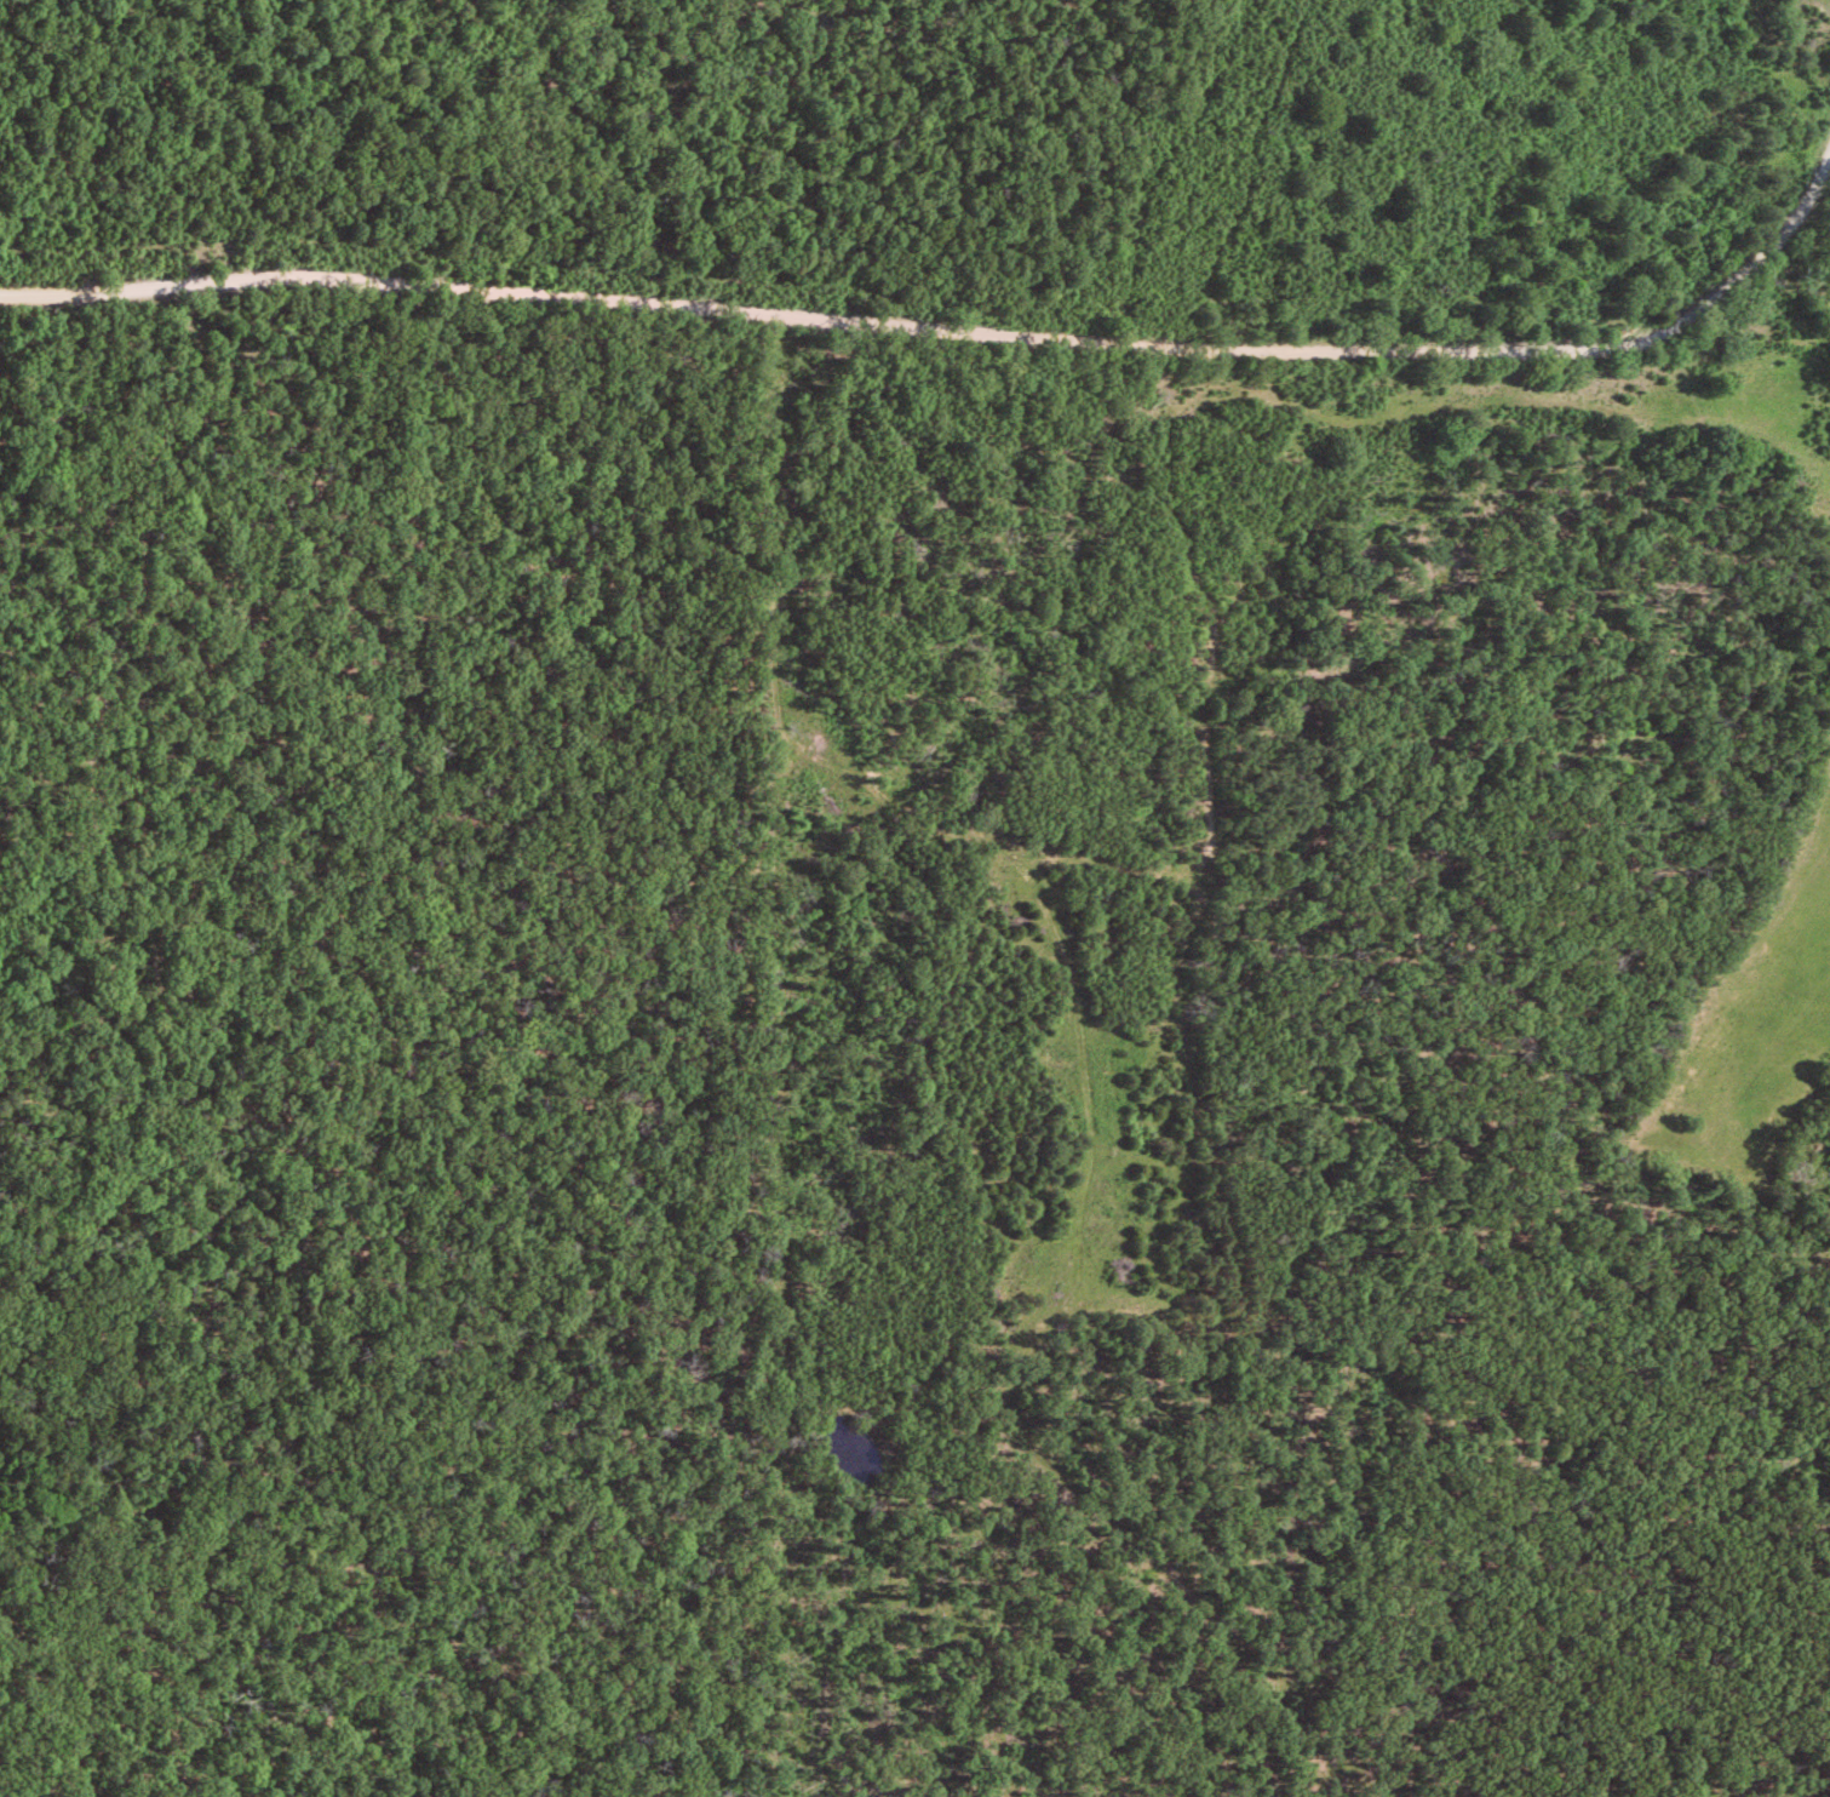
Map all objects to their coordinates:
road: (963, 331)

